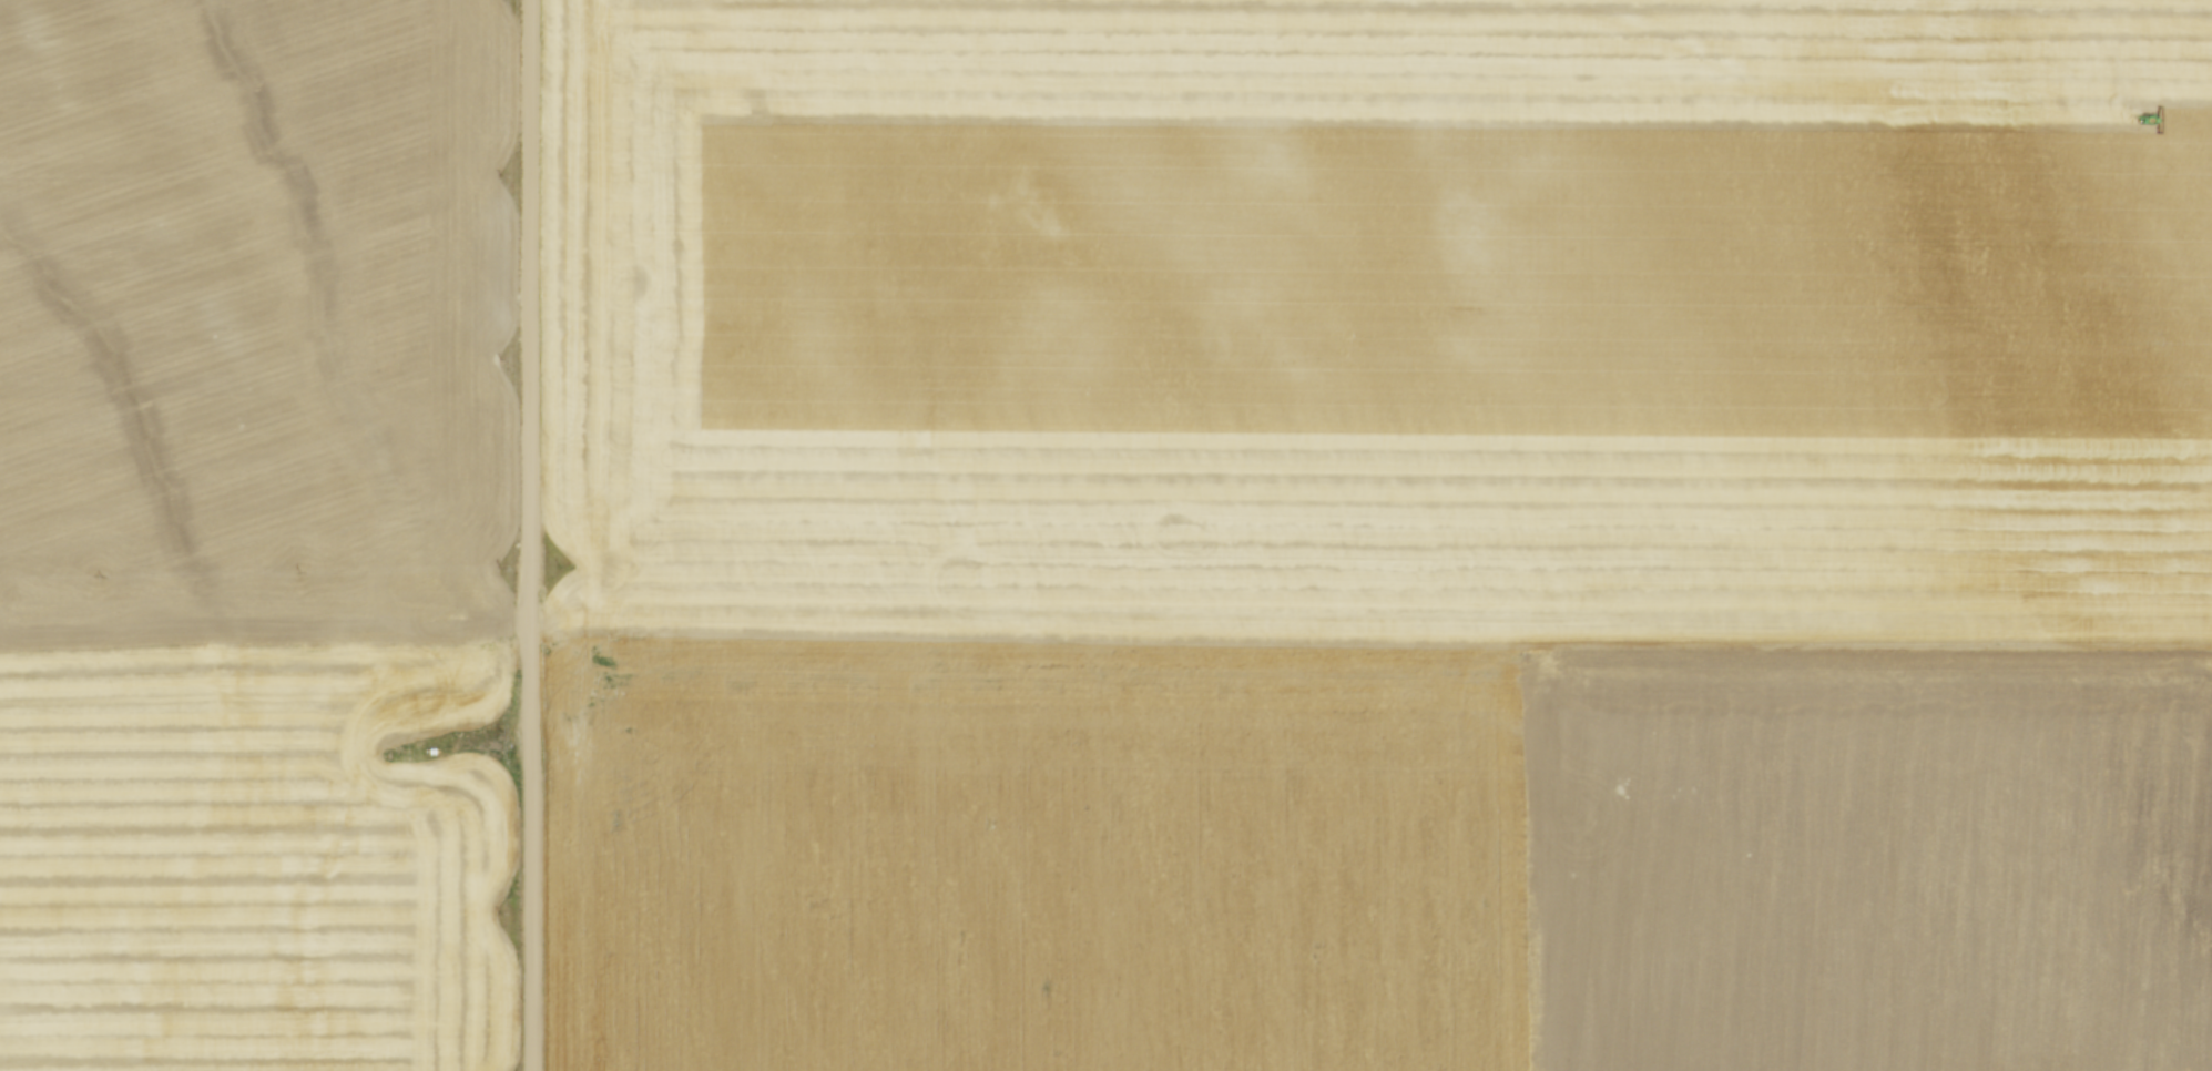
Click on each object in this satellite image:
crop: (254, 533)
road: (532, 534)
crop: (1382, 535)

